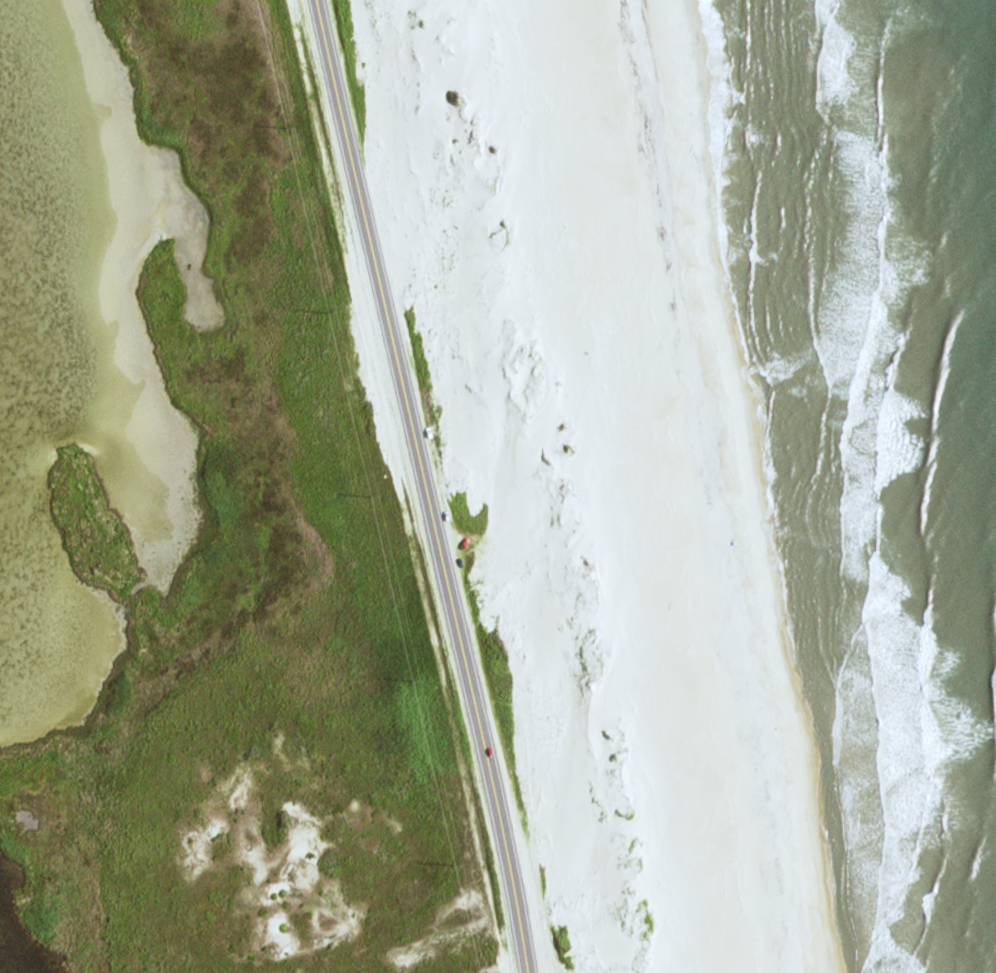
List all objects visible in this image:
power tower: (288, 127)
power tower: (330, 313)
road: (644, 468)
road: (425, 485)
power tower: (371, 492)
power tower: (414, 681)
power tower: (453, 862)
road: (698, 957)
road: (739, 957)

